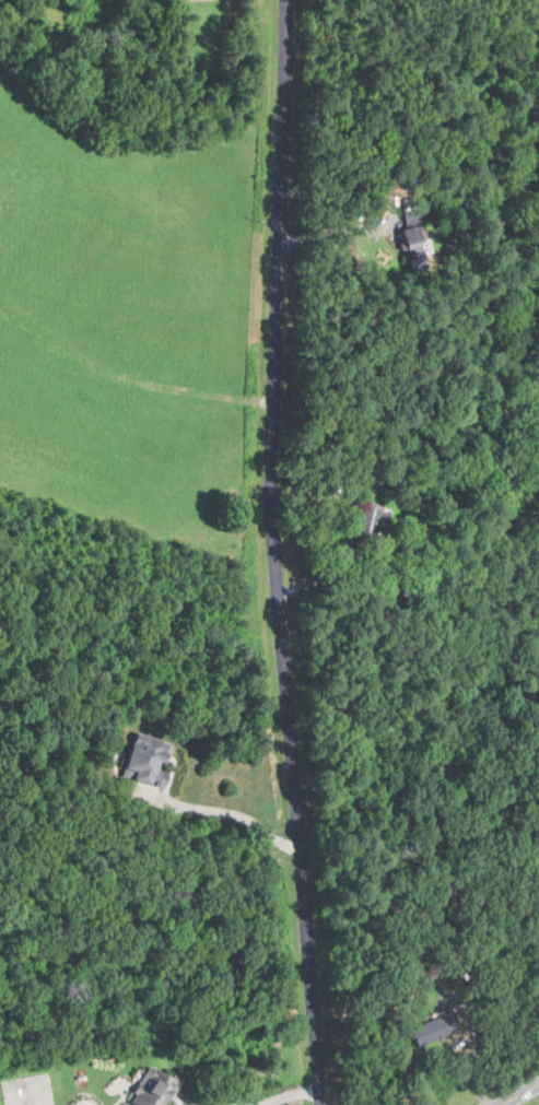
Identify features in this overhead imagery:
road: (324, 230)
building: (405, 236)
building: (370, 519)
road: (270, 553)
building: (141, 757)
road: (236, 816)
road: (372, 921)
building: (153, 1086)
road: (518, 1094)
road: (285, 1095)

